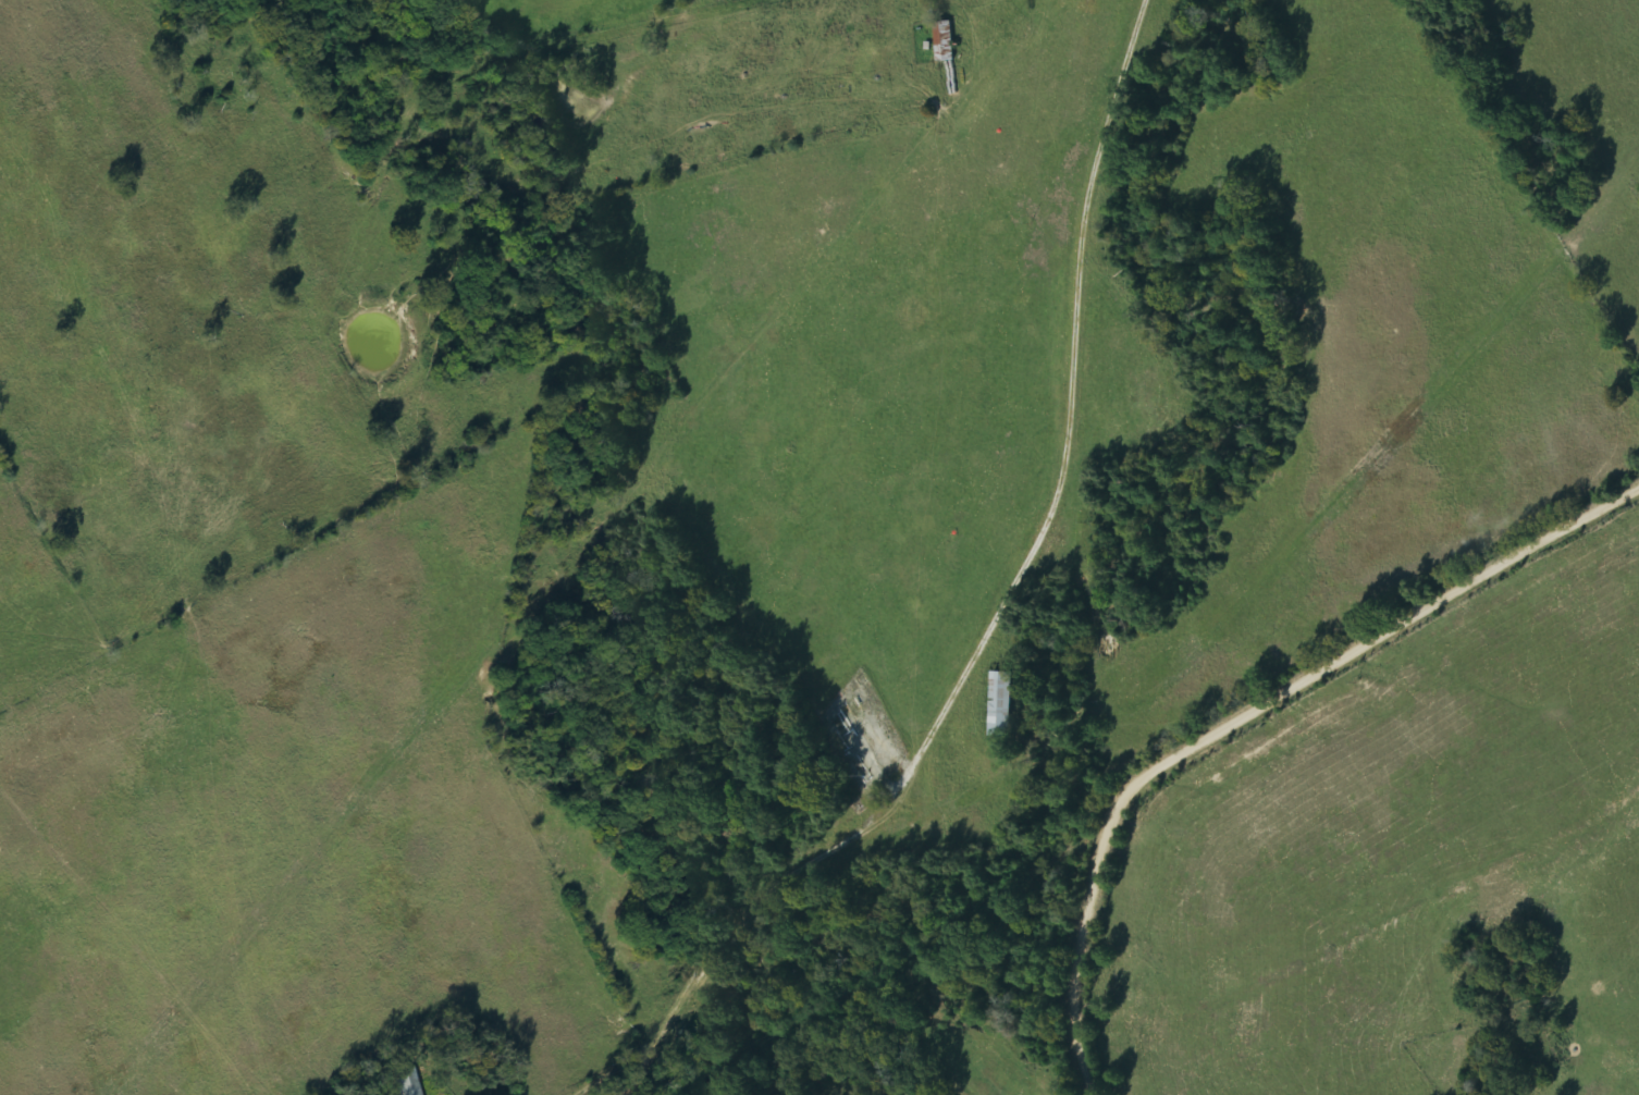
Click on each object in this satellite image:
building: (946, 37)
building: (1003, 704)
road: (1243, 715)
building: (408, 1082)

